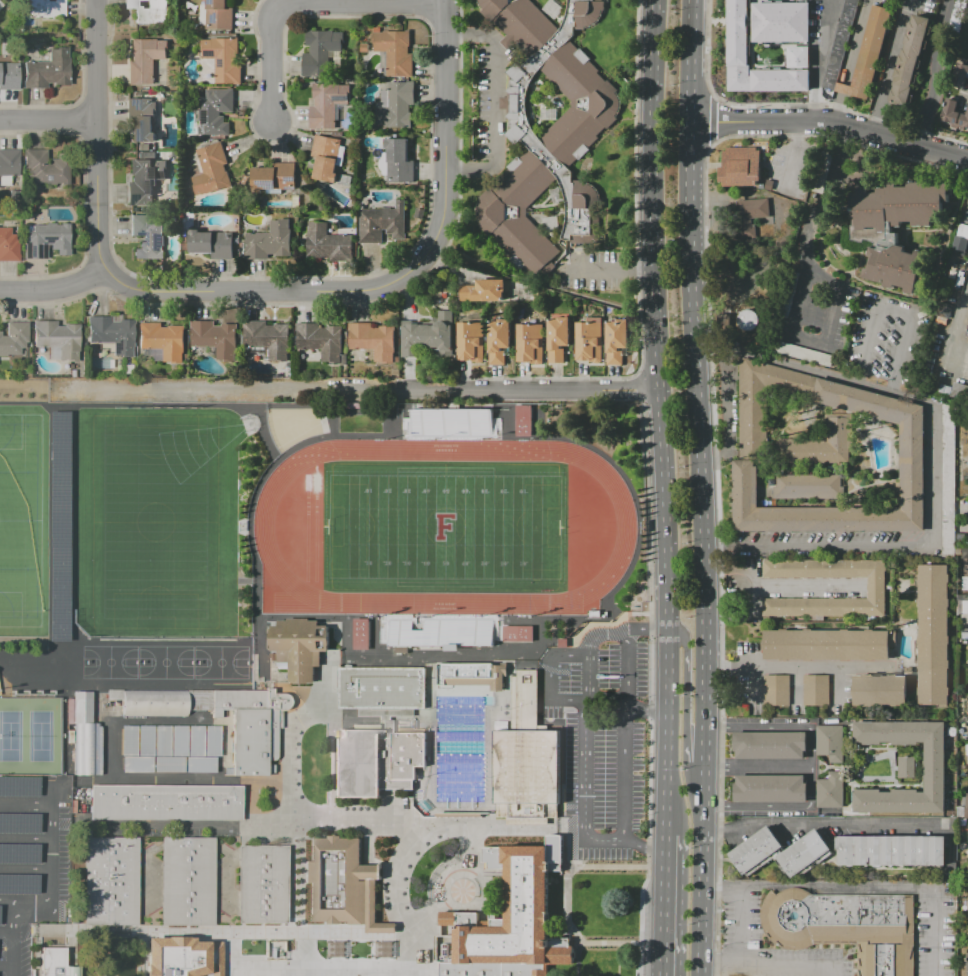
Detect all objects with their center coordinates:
building: (806, 0)
building: (808, 0)
road: (305, 2)
building: (0, 4)
building: (45, 8)
building: (149, 10)
building: (957, 11)
building: (219, 15)
road: (470, 35)
building: (739, 44)
building: (838, 44)
building: (363, 47)
road: (706, 48)
building: (320, 50)
building: (394, 52)
building: (870, 52)
road: (819, 59)
building: (145, 60)
building: (223, 60)
building: (909, 61)
building: (48, 71)
road: (935, 72)
building: (960, 75)
building: (8, 76)
road: (883, 76)
road: (965, 94)
building: (327, 103)
road: (496, 103)
building: (397, 107)
building: (214, 111)
building: (950, 111)
building: (964, 118)
building: (142, 119)
road: (48, 120)
road: (711, 120)
road: (830, 120)
road: (796, 130)
road: (445, 134)
road: (97, 135)
building: (557, 141)
building: (325, 157)
building: (398, 161)
building: (382, 162)
building: (9, 163)
road: (792, 163)
building: (740, 166)
building: (46, 167)
building: (211, 170)
road: (471, 170)
building: (273, 177)
building: (144, 180)
building: (768, 184)
road: (635, 185)
building: (760, 186)
building: (13, 195)
building: (899, 205)
building: (752, 214)
building: (967, 219)
building: (382, 223)
building: (961, 238)
building: (147, 239)
building: (270, 240)
building: (47, 241)
building: (328, 243)
building: (212, 244)
building: (8, 246)
building: (895, 268)
road: (612, 269)
road: (534, 283)
road: (54, 286)
road: (802, 290)
road: (263, 291)
building: (483, 291)
road: (891, 310)
building: (748, 320)
building: (112, 334)
building: (428, 335)
building: (14, 338)
building: (58, 338)
building: (215, 338)
building: (557, 338)
building: (268, 339)
building: (162, 340)
building: (321, 340)
building: (373, 340)
building: (499, 340)
building: (616, 340)
building: (470, 341)
building: (588, 342)
building: (530, 344)
road: (709, 350)
building: (804, 354)
road: (693, 367)
building: (68, 372)
road: (830, 373)
road: (640, 385)
road: (199, 389)
road: (530, 390)
road: (725, 400)
road: (662, 417)
building: (523, 420)
building: (449, 421)
park: (286, 428)
park: (192, 447)
building: (821, 452)
road: (711, 459)
building: (947, 474)
building: (808, 487)
park: (20, 520)
park: (153, 521)
stadium: (155, 521)
park: (154, 522)
track: (262, 524)
park: (443, 526)
building: (59, 527)
park: (443, 527)
track: (316, 533)
track: (307, 536)
road: (904, 543)
road: (717, 544)
park: (15, 551)
building: (965, 554)
road: (718, 560)
road: (776, 586)
building: (875, 588)
road: (621, 628)
building: (443, 632)
building: (361, 634)
building: (518, 634)
building: (933, 635)
road: (346, 637)
building: (826, 644)
building: (297, 646)
road: (440, 656)
park: (109, 662)
park: (164, 662)
park: (219, 662)
road: (795, 666)
building: (472, 675)
road: (586, 678)
road: (547, 679)
park: (19, 681)
park: (32, 681)
park: (45, 681)
road: (686, 683)
road: (650, 688)
building: (775, 690)
building: (815, 690)
building: (880, 690)
road: (294, 696)
building: (967, 701)
building: (154, 703)
road: (605, 703)
road: (647, 710)
road: (289, 723)
building: (250, 727)
road: (623, 728)
building: (967, 731)
building: (365, 732)
park: (29, 735)
building: (86, 737)
parking lot: (602, 738)
building: (144, 739)
building: (127, 740)
building: (160, 740)
building: (177, 740)
building: (193, 740)
building: (210, 741)
building: (830, 742)
building: (770, 744)
road: (705, 750)
building: (526, 760)
building: (136, 763)
building: (167, 763)
building: (198, 763)
road: (757, 766)
road: (810, 767)
building: (906, 767)
building: (935, 767)
road: (143, 781)
building: (18, 785)
building: (770, 788)
building: (830, 790)
road: (53, 794)
building: (167, 803)
road: (26, 804)
road: (583, 812)
building: (967, 816)
road: (824, 822)
building: (19, 823)
road: (424, 824)
road: (187, 828)
road: (26, 839)
building: (891, 850)
building: (755, 851)
building: (803, 852)
building: (18, 853)
parking lot: (31, 861)
road: (607, 865)
road: (26, 869)
road: (704, 871)
road: (440, 874)
road: (53, 875)
road: (396, 878)
road: (567, 880)
road: (78, 881)
building: (111, 881)
building: (187, 881)
building: (18, 883)
building: (261, 884)
building: (341, 884)
road: (887, 887)
road: (296, 893)
building: (967, 896)
road: (5, 902)
road: (667, 905)
building: (507, 920)
building: (843, 926)
road: (750, 928)
road: (5, 932)
road: (224, 933)
road: (10, 939)
road: (15, 940)
road: (608, 942)
building: (336, 948)
road: (230, 950)
road: (144, 954)
building: (181, 957)
road: (418, 958)
road: (576, 959)
building: (967, 959)
building: (55, 963)
road: (4, 965)
road: (324, 969)
road: (796, 970)
road: (294, 972)
road: (400, 973)

